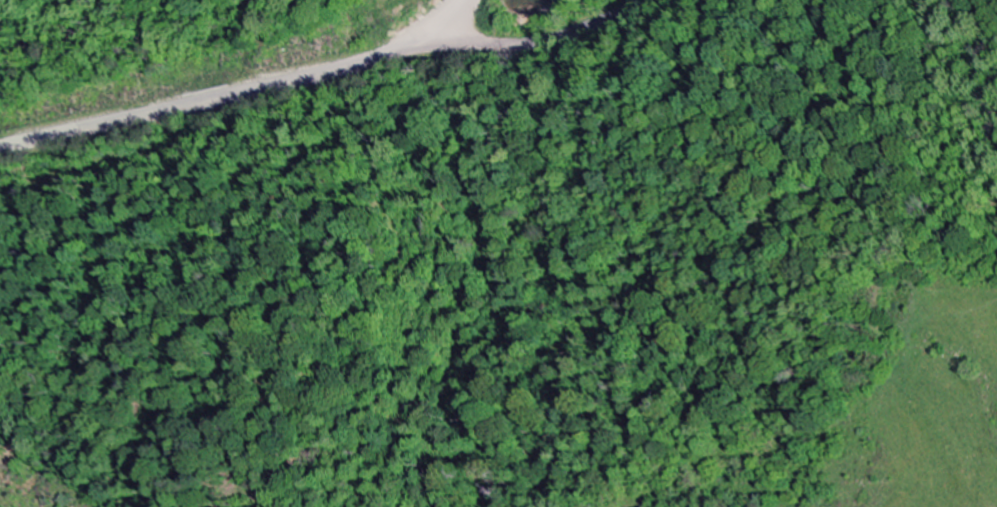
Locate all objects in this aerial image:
road: (435, 21)
road: (312, 72)

